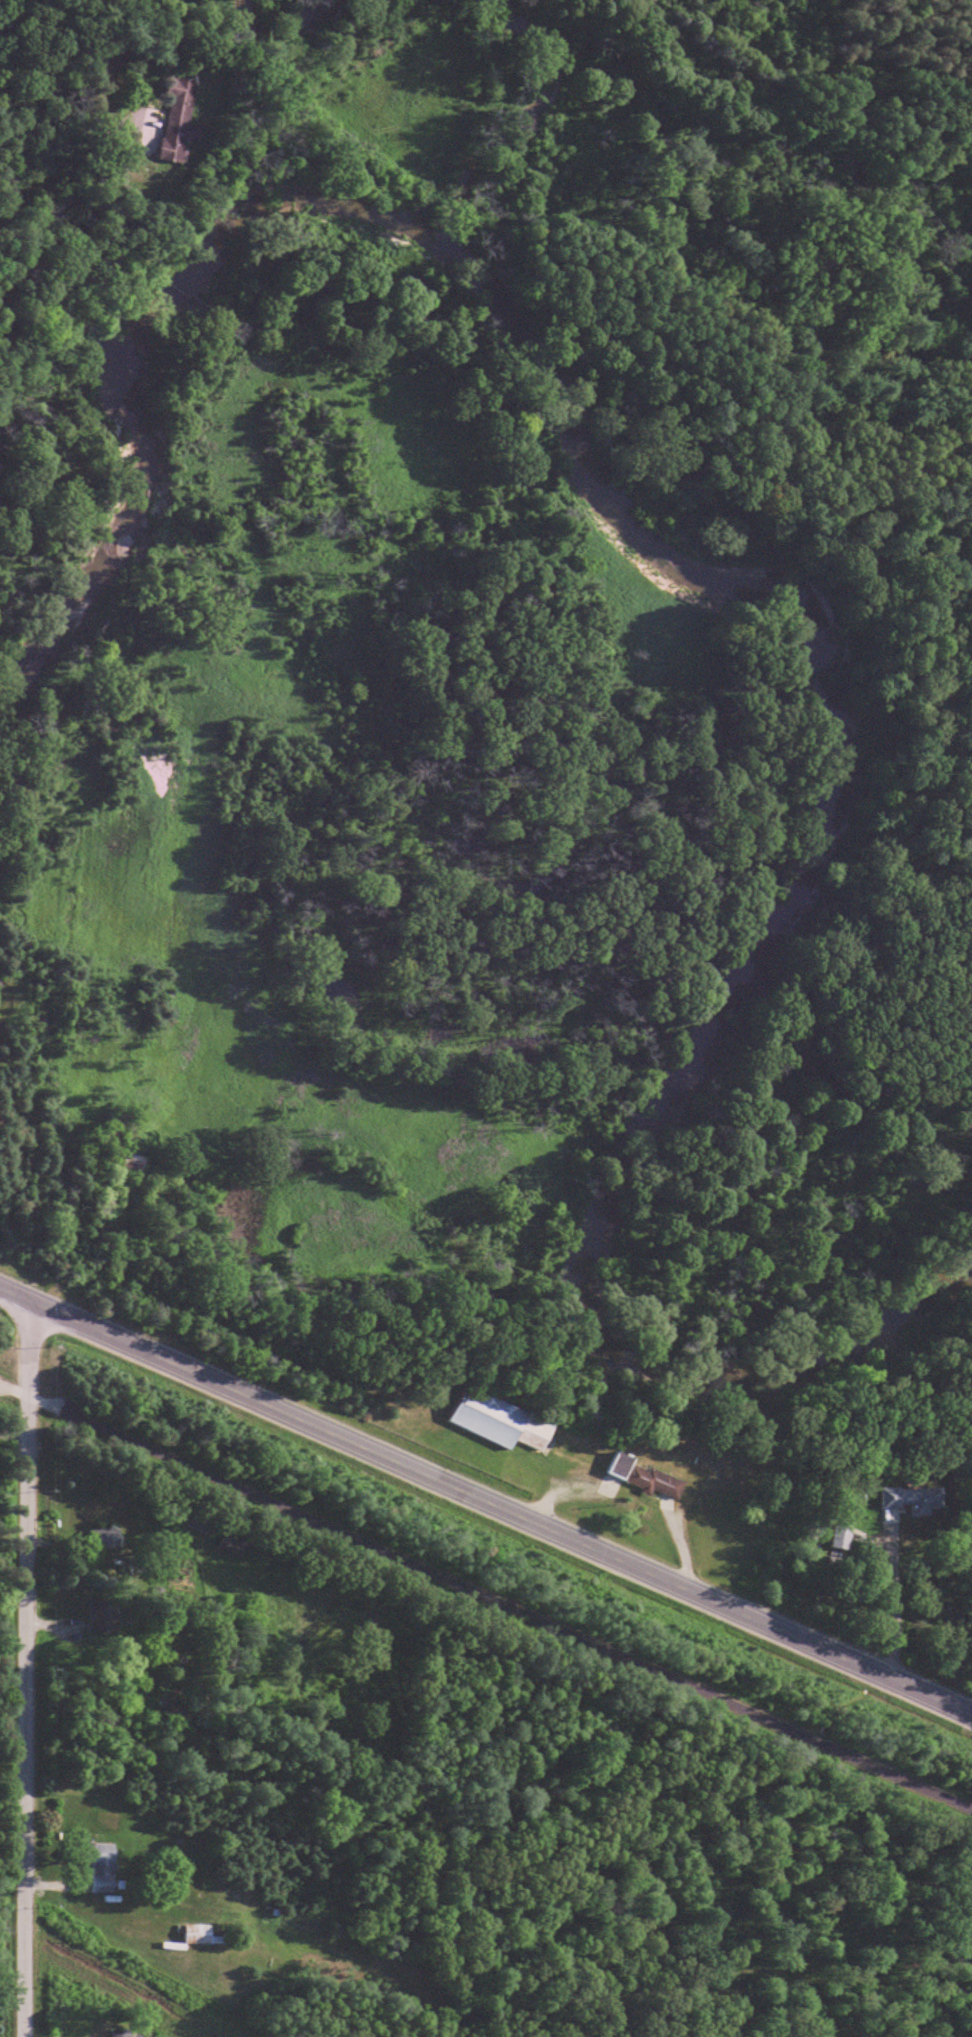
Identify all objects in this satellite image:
building: (187, 123)
river: (768, 550)
building: (509, 1421)
building: (645, 1477)
road: (486, 1500)
building: (916, 1500)
building: (202, 1526)
building: (845, 1538)
building: (106, 1539)
building: (234, 1548)
road: (488, 1591)
building: (105, 1616)
road: (26, 1669)
building: (104, 1870)
building: (202, 1936)
building: (123, 2034)

